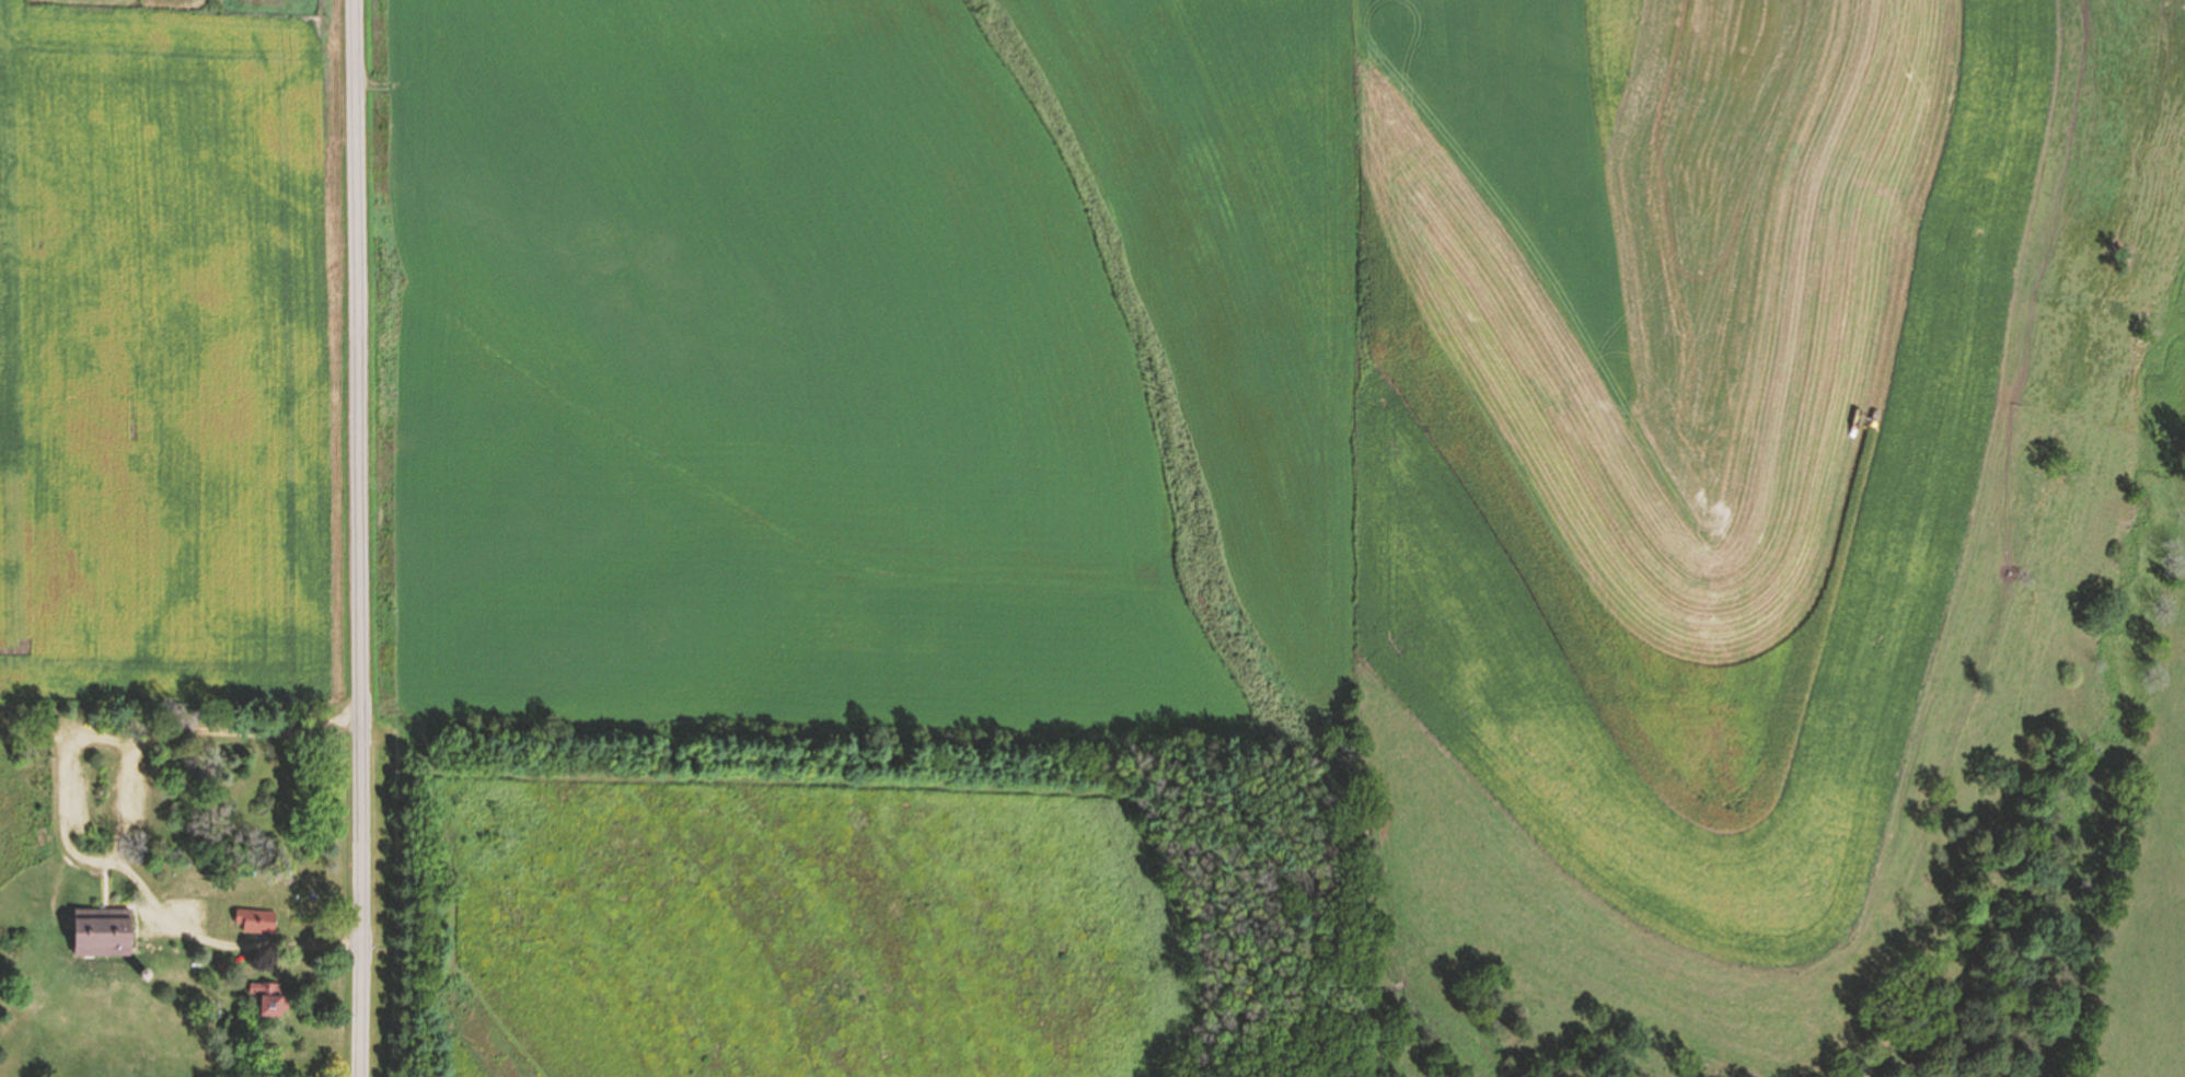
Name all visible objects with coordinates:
road: (357, 538)
road: (65, 792)
road: (120, 829)
building: (246, 870)
building: (256, 922)
building: (102, 934)
road: (414, 988)
building: (268, 1000)

